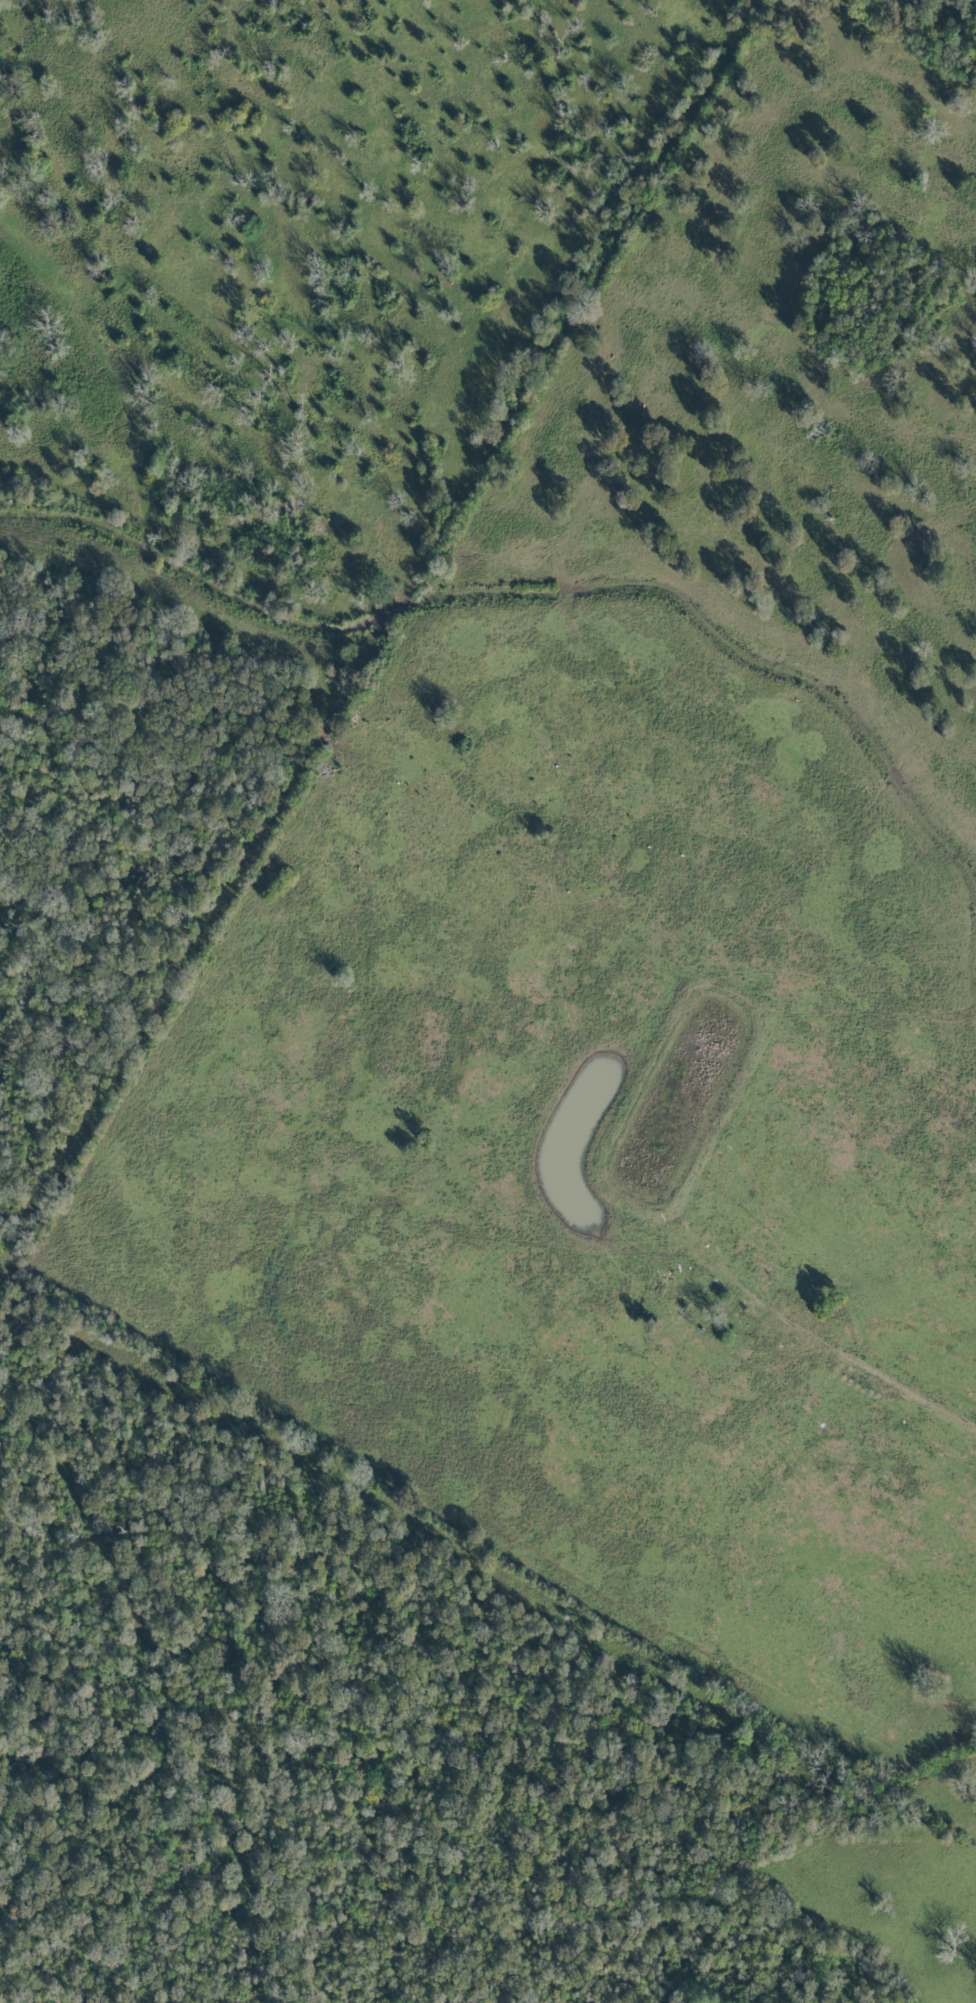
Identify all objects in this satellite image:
road: (874, 1375)

